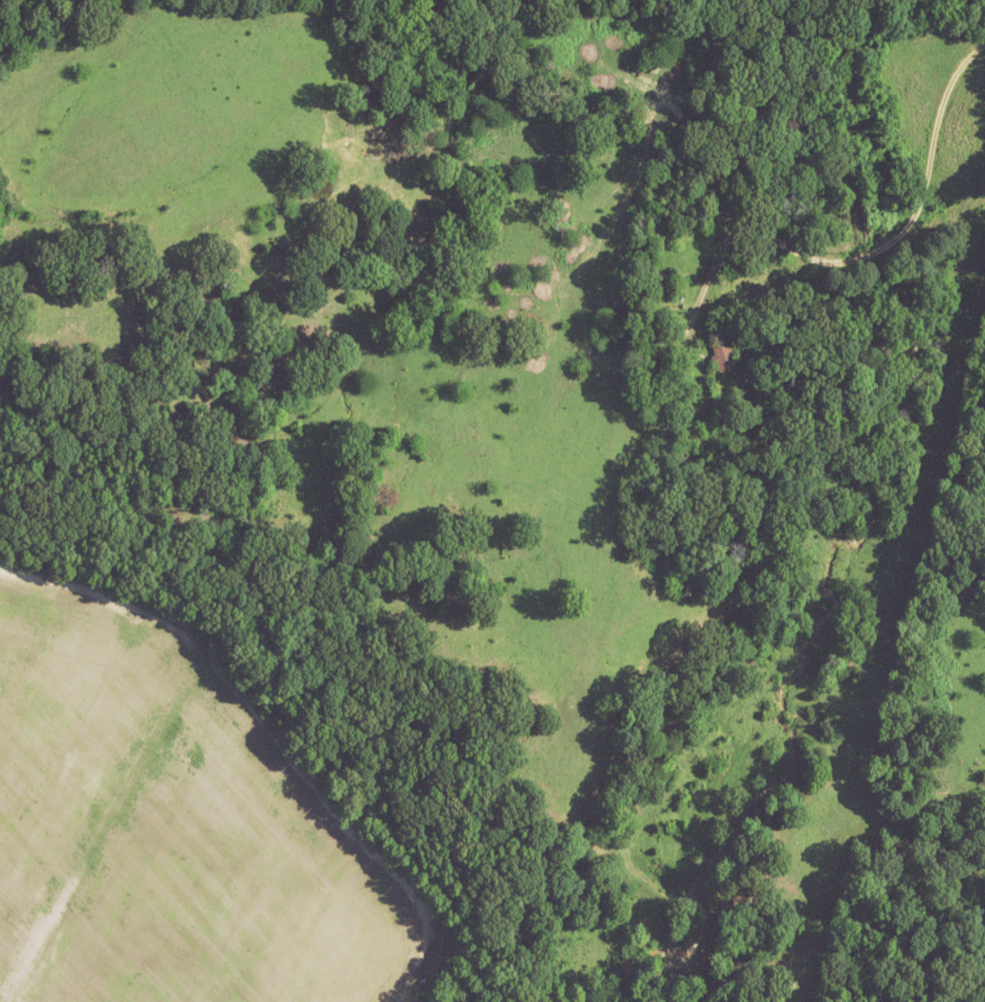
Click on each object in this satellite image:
road: (873, 251)
building: (723, 355)

